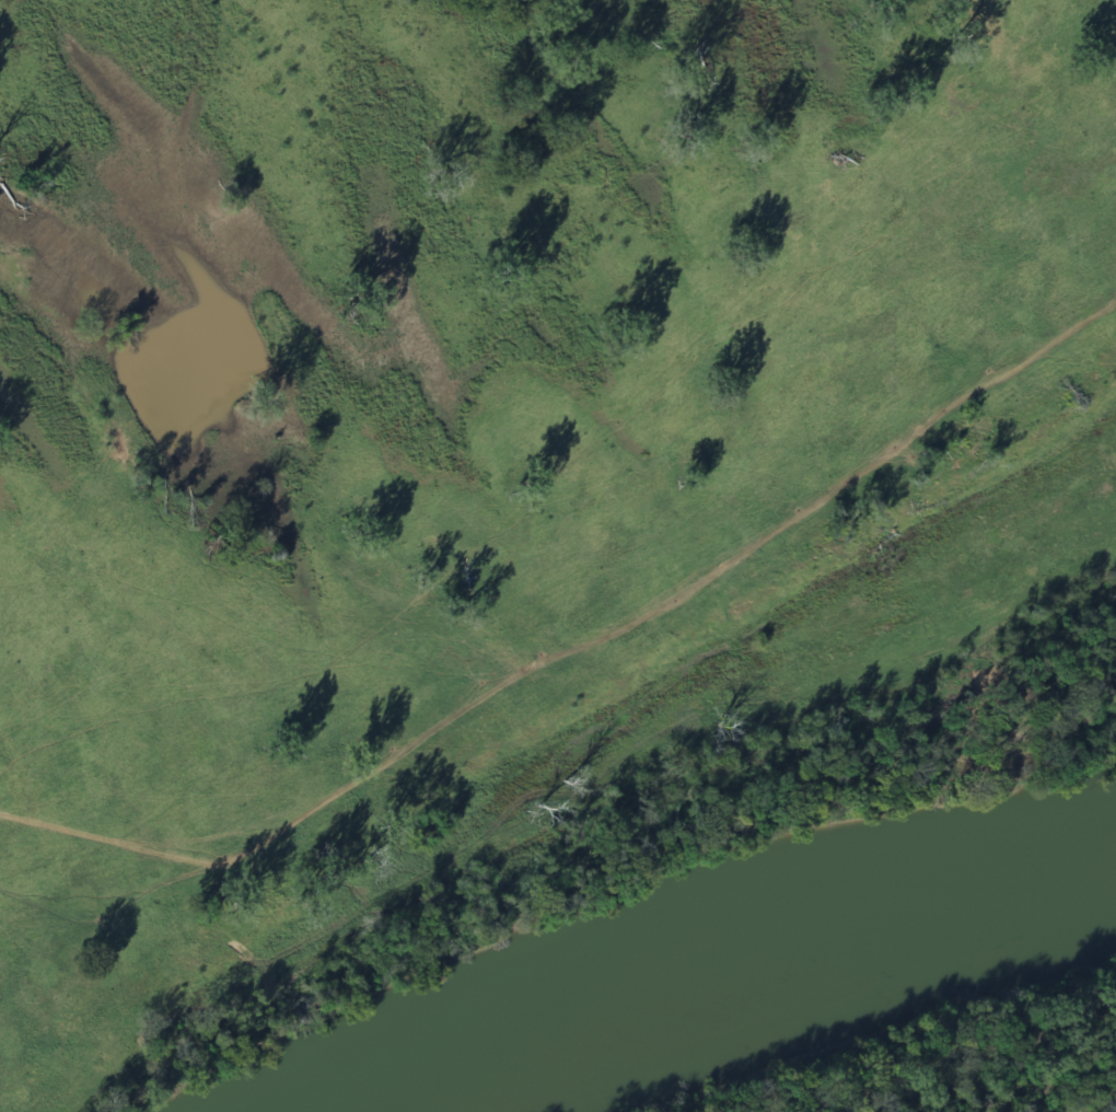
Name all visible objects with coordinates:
river: (705, 983)

